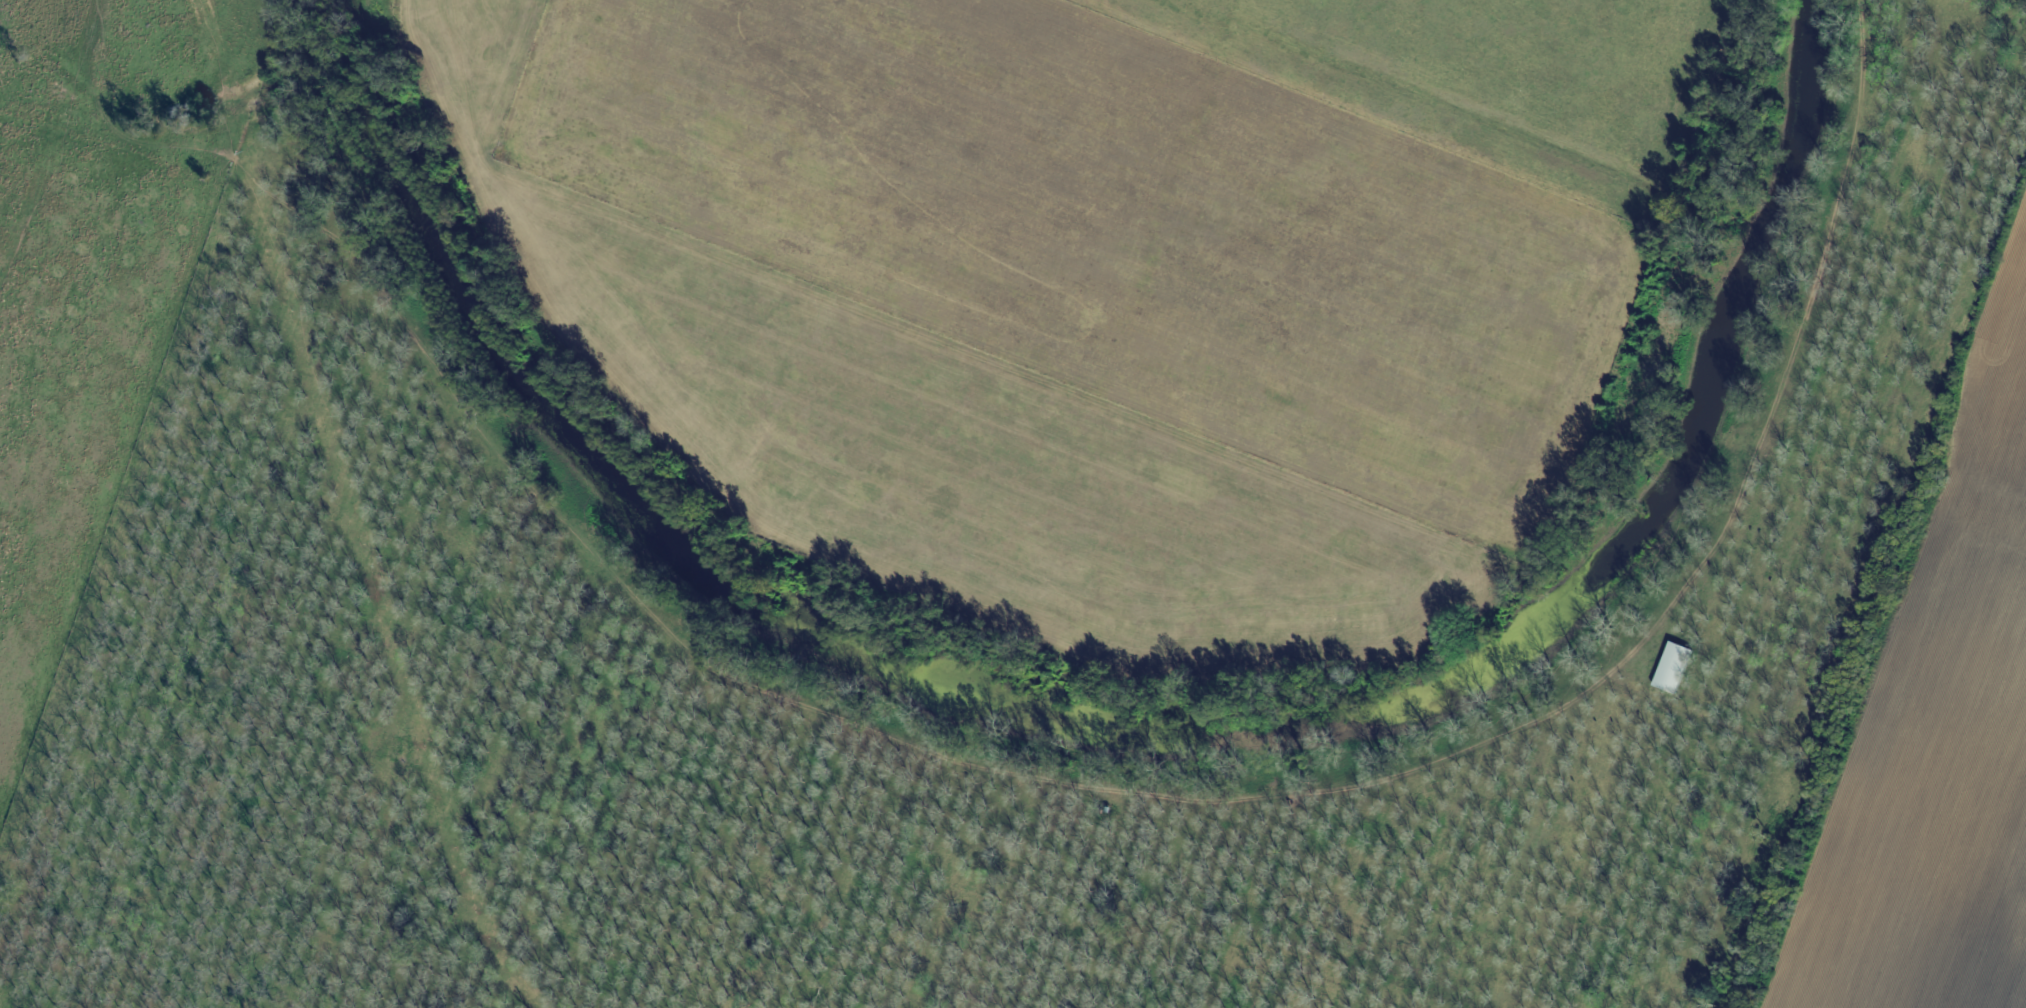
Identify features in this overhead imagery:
building: (1673, 667)

